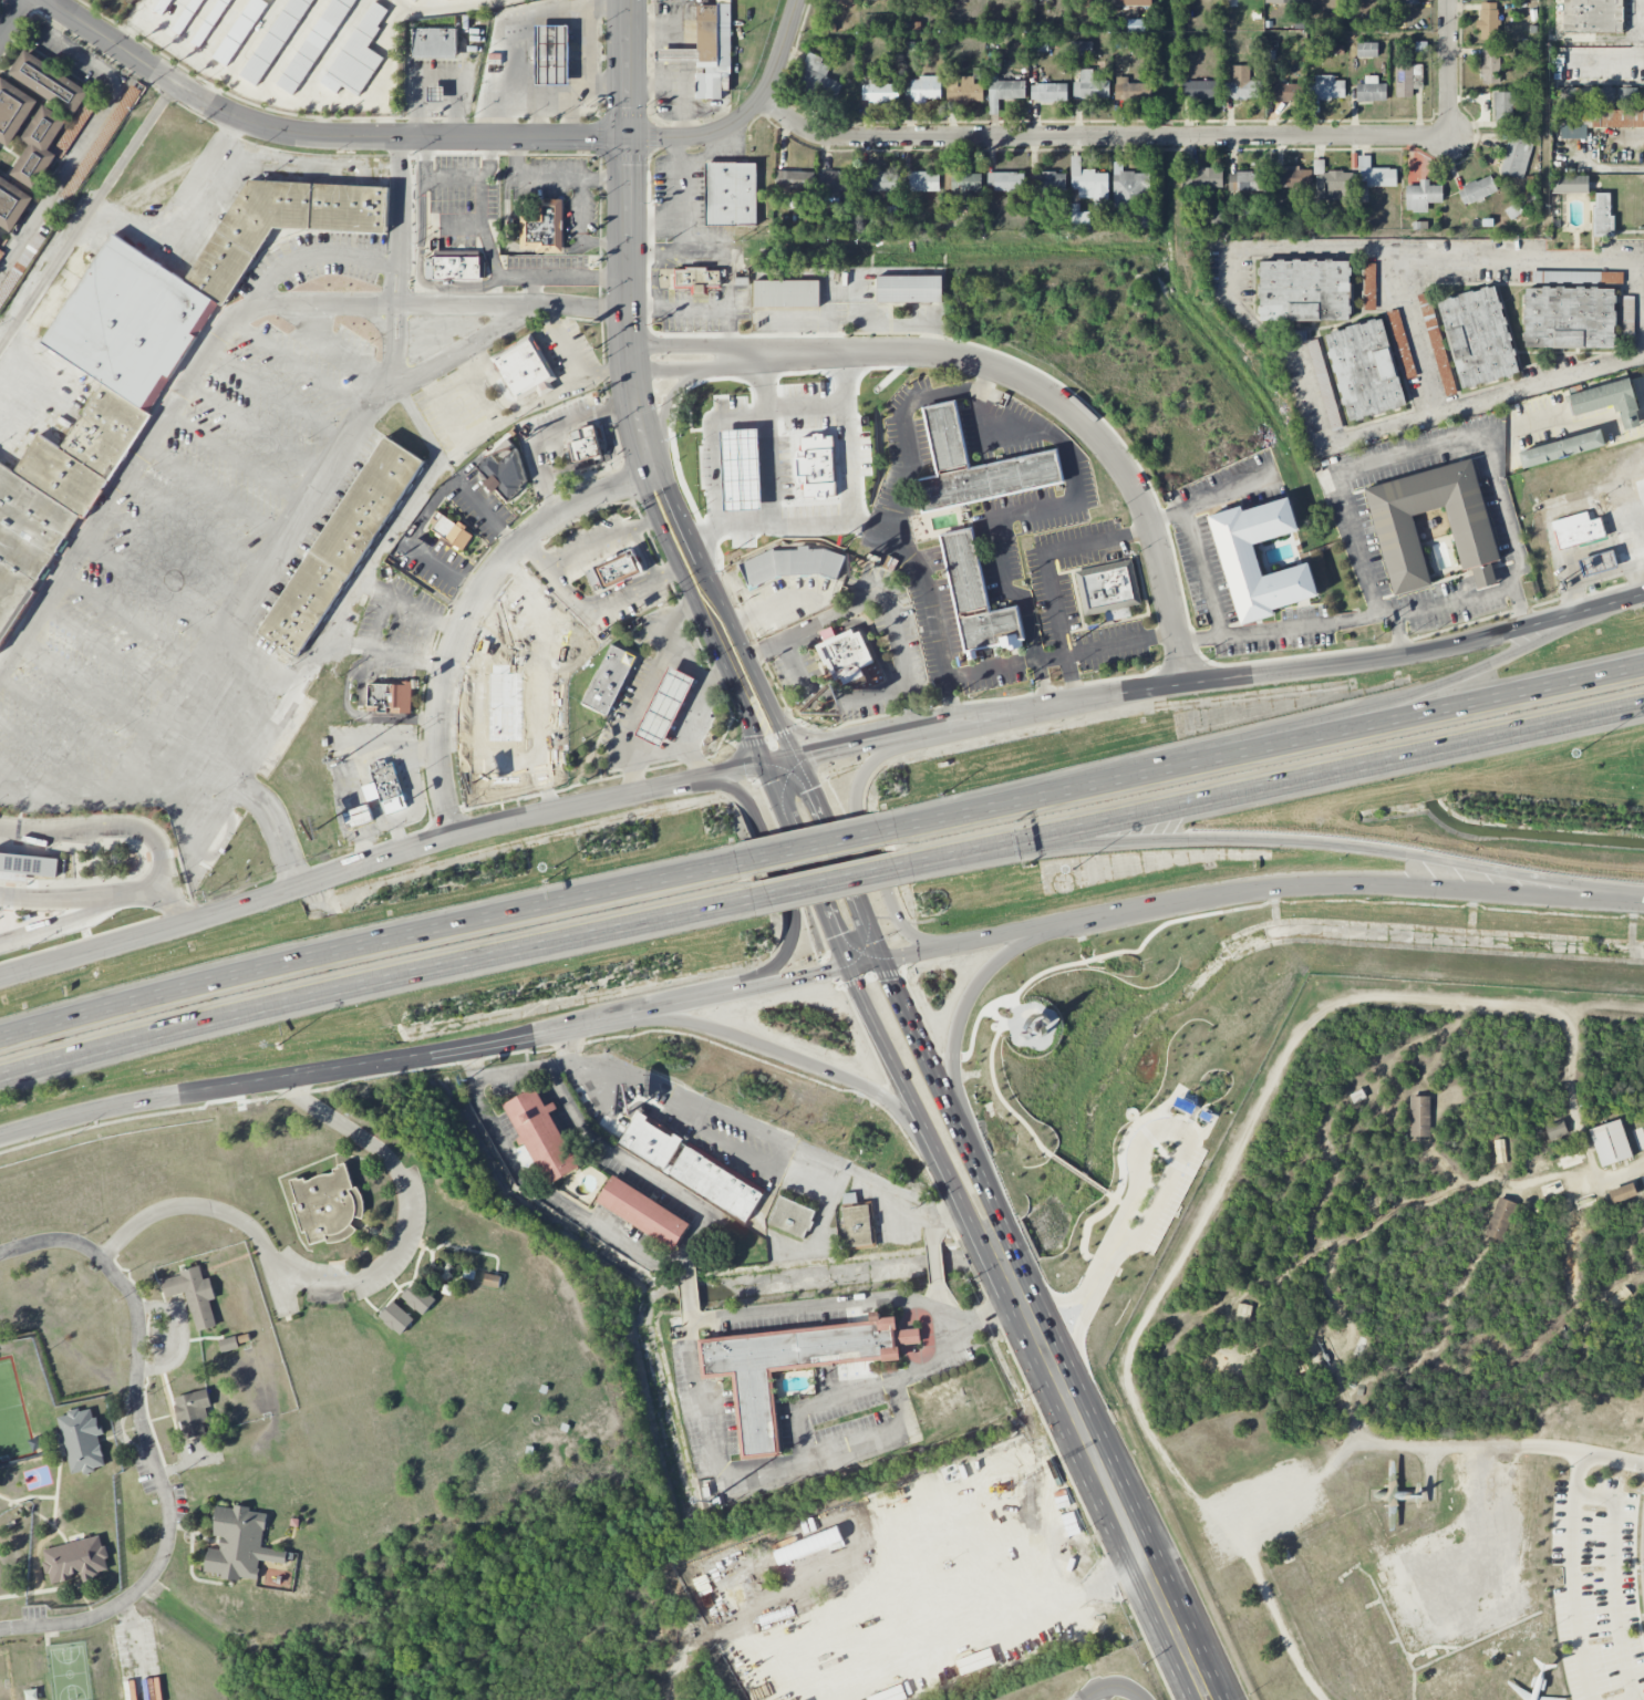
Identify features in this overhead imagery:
building: (413, 0)
building: (867, 0)
building: (1283, 1)
building: (1408, 1)
building: (1133, 2)
building: (847, 3)
building: (164, 7)
road: (446, 7)
road: (142, 13)
building: (1593, 15)
building: (187, 17)
road: (12, 19)
building: (1488, 21)
building: (210, 23)
road: (56, 24)
building: (239, 31)
road: (127, 38)
building: (276, 41)
road: (529, 41)
building: (435, 42)
building: (314, 44)
building: (1081, 48)
building: (1367, 50)
building: (707, 51)
road: (392, 53)
road: (577, 53)
building: (552, 54)
building: (358, 55)
building: (1490, 65)
road: (627, 69)
road: (1448, 69)
building: (819, 77)
road: (440, 79)
building: (1405, 80)
building: (1242, 84)
building: (1090, 86)
building: (1326, 87)
building: (922, 89)
building: (1200, 90)
building: (1371, 90)
building: (1131, 91)
building: (880, 92)
building: (964, 92)
building: (1048, 92)
building: (1284, 92)
building: (436, 93)
building: (1004, 93)
road: (267, 95)
building: (1600, 96)
road: (577, 97)
building: (13, 110)
building: (1505, 110)
road: (745, 112)
road: (502, 114)
building: (48, 115)
road: (577, 117)
building: (1614, 118)
road: (95, 127)
building: (1573, 132)
road: (317, 134)
road: (1098, 137)
traffic signals: (627, 138)
road: (710, 153)
building: (1517, 157)
road: (1607, 170)
building: (1376, 175)
road: (433, 177)
building: (1292, 177)
building: (794, 179)
building: (1202, 179)
building: (883, 180)
building: (1005, 180)
building: (924, 182)
building: (966, 182)
building: (1047, 182)
building: (1247, 182)
building: (836, 183)
building: (1089, 184)
building: (1570, 184)
building: (1128, 186)
building: (1477, 190)
building: (730, 194)
building: (1423, 196)
building: (12, 204)
road: (675, 204)
road: (87, 215)
building: (1603, 216)
building: (1079, 218)
road: (185, 219)
road: (482, 224)
building: (544, 227)
building: (0, 234)
building: (0, 252)
road: (1643, 263)
building: (454, 267)
road: (566, 277)
building: (695, 278)
building: (1369, 287)
building: (907, 290)
building: (1304, 290)
building: (784, 294)
road: (436, 303)
building: (1572, 313)
road: (1416, 335)
building: (1478, 336)
building: (1402, 344)
road: (701, 345)
road: (1276, 346)
road: (456, 352)
building: (145, 353)
road: (201, 365)
building: (524, 365)
road: (703, 369)
building: (1365, 369)
building: (1324, 384)
road: (966, 396)
building: (1609, 400)
road: (814, 401)
road: (637, 408)
road: (664, 410)
road: (1069, 410)
road: (1643, 413)
road: (547, 429)
building: (790, 439)
road: (856, 440)
building: (585, 443)
building: (1561, 448)
road: (1416, 452)
building: (1032, 460)
road: (778, 465)
building: (752, 468)
building: (499, 479)
road: (1206, 499)
road: (723, 501)
road: (476, 505)
road: (1629, 526)
building: (1576, 529)
building: (451, 531)
road: (297, 533)
road: (616, 536)
building: (1474, 538)
building: (341, 546)
road: (710, 548)
road: (644, 553)
building: (1237, 553)
road: (1570, 556)
road: (540, 557)
building: (788, 563)
building: (1598, 563)
gas station: (1598, 563)
building: (617, 569)
road: (1202, 572)
road: (1046, 574)
road: (647, 584)
road: (355, 588)
building: (1107, 588)
road: (568, 597)
road: (876, 598)
building: (972, 598)
road: (1455, 603)
road: (766, 604)
road: (469, 605)
road: (1612, 605)
road: (194, 610)
road: (680, 610)
road: (1521, 611)
road: (380, 620)
road: (1581, 620)
road: (1328, 622)
road: (495, 636)
road: (1200, 639)
road: (1107, 645)
building: (842, 653)
road: (478, 662)
road: (992, 668)
road: (718, 672)
road: (1272, 677)
road: (542, 678)
building: (611, 678)
road: (649, 684)
road: (1042, 684)
road: (99, 687)
building: (385, 695)
building: (500, 699)
road: (771, 706)
building: (665, 707)
gas station: (665, 707)
road: (1359, 708)
road: (745, 713)
road: (914, 713)
road: (355, 714)
road: (907, 733)
road: (687, 735)
road: (810, 735)
traffic signals: (754, 736)
road: (1269, 746)
road: (825, 750)
building: (492, 754)
traffic signals: (811, 754)
road: (511, 757)
road: (658, 758)
road: (780, 760)
road: (723, 773)
road: (1327, 774)
building: (387, 781)
traffic signals: (811, 790)
road: (177, 792)
building: (358, 816)
road: (113, 828)
road: (862, 832)
road: (436, 837)
road: (818, 844)
road: (1328, 848)
road: (966, 851)
road: (839, 858)
building: (30, 863)
road: (806, 864)
road: (836, 880)
road: (780, 885)
road: (1304, 885)
road: (69, 898)
road: (167, 902)
road: (70, 920)
traffic signals: (836, 936)
road: (369, 939)
road: (99, 947)
road: (926, 950)
road: (865, 963)
traffic signals: (826, 972)
traffic signals: (891, 979)
road: (778, 981)
road: (373, 983)
road: (976, 992)
road: (651, 1008)
road: (510, 1037)
road: (786, 1055)
road: (402, 1056)
road: (472, 1060)
road: (897, 1067)
road: (651, 1088)
road: (186, 1090)
building: (1420, 1117)
road: (744, 1121)
building: (1643, 1124)
building: (1555, 1129)
building: (541, 1136)
building: (1638, 1138)
building: (651, 1141)
building: (1610, 1142)
road: (703, 1149)
building: (1500, 1151)
building: (1570, 1160)
road: (631, 1165)
road: (1624, 1170)
building: (1642, 1180)
building: (717, 1182)
building: (1551, 1189)
building: (1622, 1193)
road: (554, 1198)
building: (1584, 1201)
building: (327, 1205)
building: (643, 1212)
road: (945, 1214)
building: (792, 1216)
building: (1500, 1219)
building: (857, 1222)
road: (934, 1254)
building: (492, 1281)
road: (344, 1282)
road: (935, 1292)
building: (194, 1295)
building: (1620, 1297)
building: (418, 1298)
building: (1243, 1310)
building: (396, 1317)
road: (1054, 1329)
building: (228, 1344)
building: (1222, 1356)
building: (786, 1367)
building: (1221, 1368)
road: (694, 1376)
road: (819, 1402)
building: (193, 1412)
park: (12, 1416)
road: (1065, 1434)
building: (82, 1440)
road: (148, 1442)
road: (1569, 1450)
road: (188, 1464)
road: (1579, 1473)
building: (239, 1544)
building: (76, 1559)
road: (1612, 1585)
parking lot: (1598, 1590)
road: (1058, 1596)
road: (1574, 1598)
road: (135, 1650)
park: (68, 1671)
park: (6, 1677)
road: (1130, 1689)
road: (1102, 1692)
building: (32, 1694)

